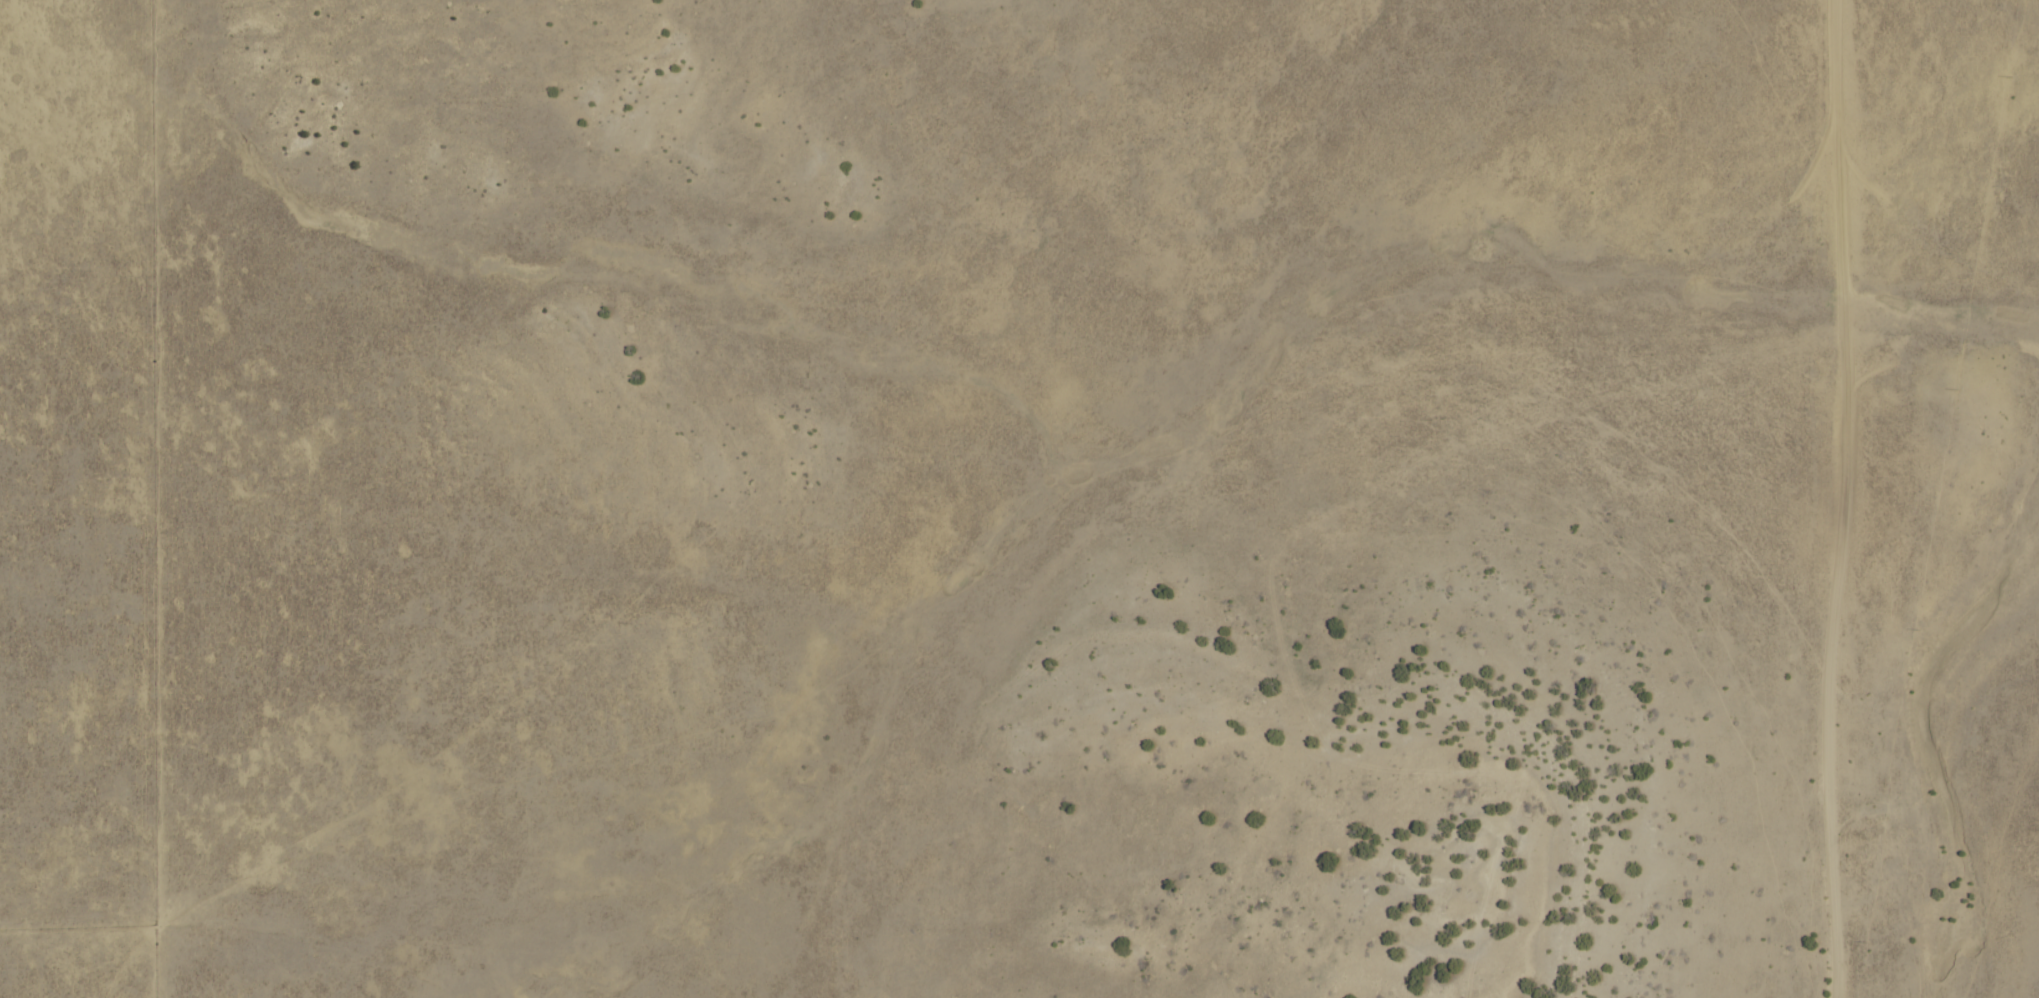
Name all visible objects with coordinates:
road: (1824, 228)
road: (1811, 616)

